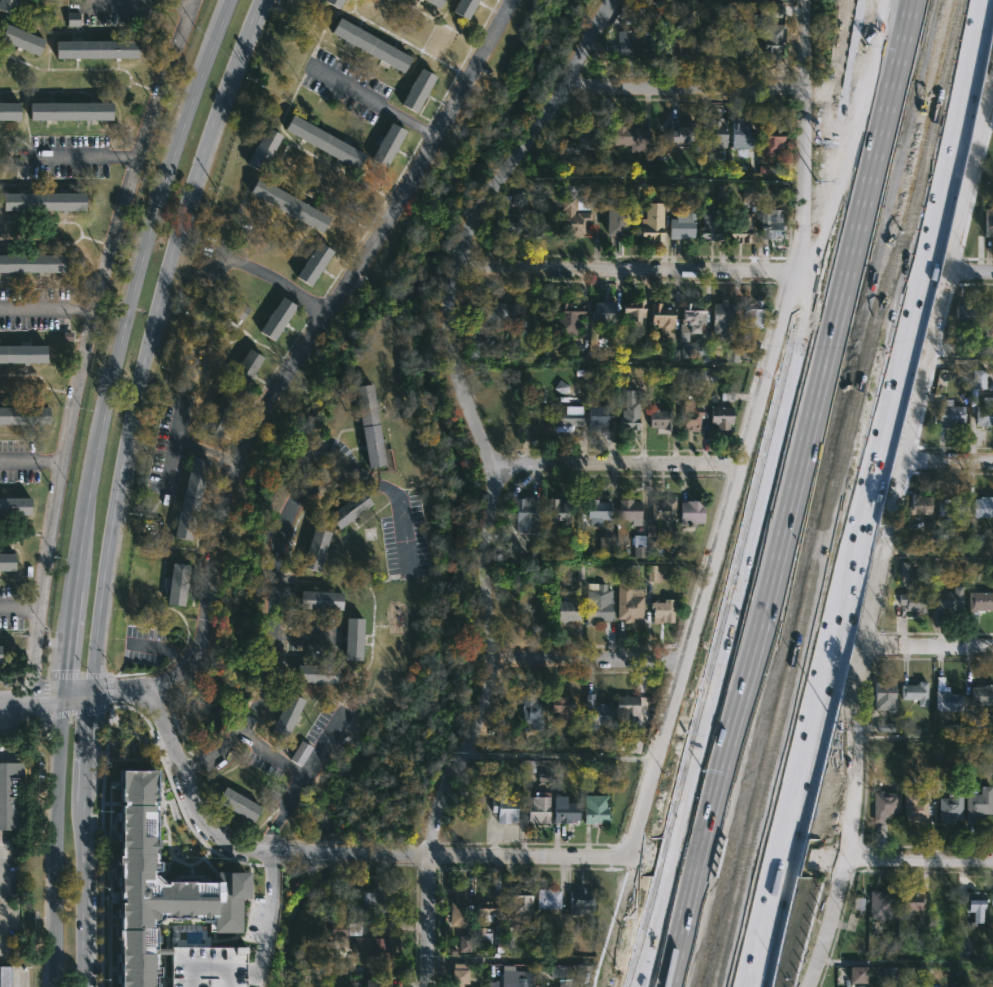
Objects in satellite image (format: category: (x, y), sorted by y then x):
road: (143, 1)
building: (335, 2)
building: (435, 2)
building: (6, 5)
building: (463, 7)
building: (773, 11)
building: (678, 14)
building: (20, 38)
building: (771, 38)
building: (740, 40)
building: (370, 43)
building: (630, 43)
building: (708, 45)
building: (673, 46)
building: (94, 48)
road: (684, 86)
building: (417, 89)
road: (991, 89)
road: (375, 104)
building: (9, 110)
building: (66, 111)
building: (677, 131)
building: (714, 133)
building: (740, 135)
building: (632, 137)
building: (579, 140)
building: (323, 141)
building: (769, 141)
building: (388, 144)
building: (262, 149)
road: (86, 158)
building: (749, 192)
building: (519, 199)
building: (42, 201)
building: (285, 206)
building: (574, 215)
building: (616, 221)
building: (652, 222)
building: (772, 223)
building: (988, 223)
building: (707, 225)
building: (682, 226)
building: (512, 227)
building: (740, 227)
building: (31, 263)
building: (310, 264)
road: (625, 269)
road: (970, 270)
road: (275, 278)
building: (241, 309)
road: (49, 310)
building: (495, 314)
building: (604, 315)
building: (636, 315)
building: (276, 317)
building: (567, 318)
building: (661, 318)
building: (691, 318)
building: (750, 318)
building: (967, 318)
building: (721, 320)
building: (989, 321)
road: (94, 326)
road: (153, 341)
road: (121, 342)
road: (307, 344)
building: (22, 354)
building: (731, 355)
building: (242, 372)
building: (978, 379)
building: (628, 413)
building: (984, 413)
building: (690, 415)
building: (950, 415)
building: (23, 417)
building: (599, 418)
building: (720, 418)
building: (567, 419)
building: (659, 419)
building: (215, 420)
building: (369, 429)
road: (751, 433)
road: (204, 449)
road: (786, 457)
road: (948, 459)
road: (33, 460)
road: (615, 464)
road: (489, 474)
road: (385, 491)
road: (850, 493)
road: (869, 493)
building: (189, 499)
building: (919, 504)
building: (983, 506)
building: (14, 507)
building: (346, 507)
building: (954, 507)
building: (662, 508)
building: (556, 509)
building: (597, 509)
building: (525, 510)
building: (629, 510)
building: (690, 512)
road: (886, 530)
building: (973, 541)
building: (651, 542)
building: (606, 546)
building: (639, 546)
building: (313, 547)
road: (937, 551)
building: (5, 564)
building: (653, 573)
building: (175, 584)
building: (949, 598)
building: (318, 599)
building: (912, 600)
building: (597, 603)
building: (629, 603)
building: (978, 603)
road: (19, 609)
building: (567, 610)
building: (661, 610)
road: (278, 630)
building: (351, 637)
road: (163, 645)
road: (927, 646)
building: (0, 648)
road: (588, 669)
building: (315, 673)
road: (34, 682)
building: (914, 692)
building: (981, 694)
building: (883, 695)
road: (83, 697)
building: (946, 697)
road: (33, 698)
building: (626, 706)
building: (560, 707)
building: (530, 710)
building: (596, 712)
building: (284, 713)
road: (98, 725)
road: (925, 738)
building: (631, 744)
building: (300, 753)
road: (288, 764)
road: (94, 777)
building: (10, 795)
building: (235, 803)
building: (977, 804)
building: (884, 805)
building: (950, 805)
building: (913, 806)
building: (503, 807)
building: (538, 808)
building: (594, 809)
building: (566, 810)
building: (155, 826)
road: (272, 831)
road: (59, 842)
road: (332, 851)
road: (730, 856)
road: (897, 858)
road: (89, 893)
building: (377, 894)
building: (159, 898)
building: (546, 898)
road: (1, 899)
building: (991, 899)
building: (521, 900)
building: (578, 900)
building: (910, 902)
building: (880, 905)
building: (489, 906)
building: (970, 908)
building: (457, 913)
building: (219, 916)
road: (266, 924)
building: (345, 928)
building: (919, 940)
building: (371, 945)
road: (650, 948)
road: (658, 948)
building: (853, 950)
road: (766, 955)
road: (906, 960)
building: (159, 963)
building: (207, 967)
road: (195, 968)
building: (567, 972)
building: (888, 974)
building: (458, 975)
building: (856, 975)
building: (4, 976)
road: (222, 976)
building: (245, 977)
building: (376, 983)
building: (510, 983)

